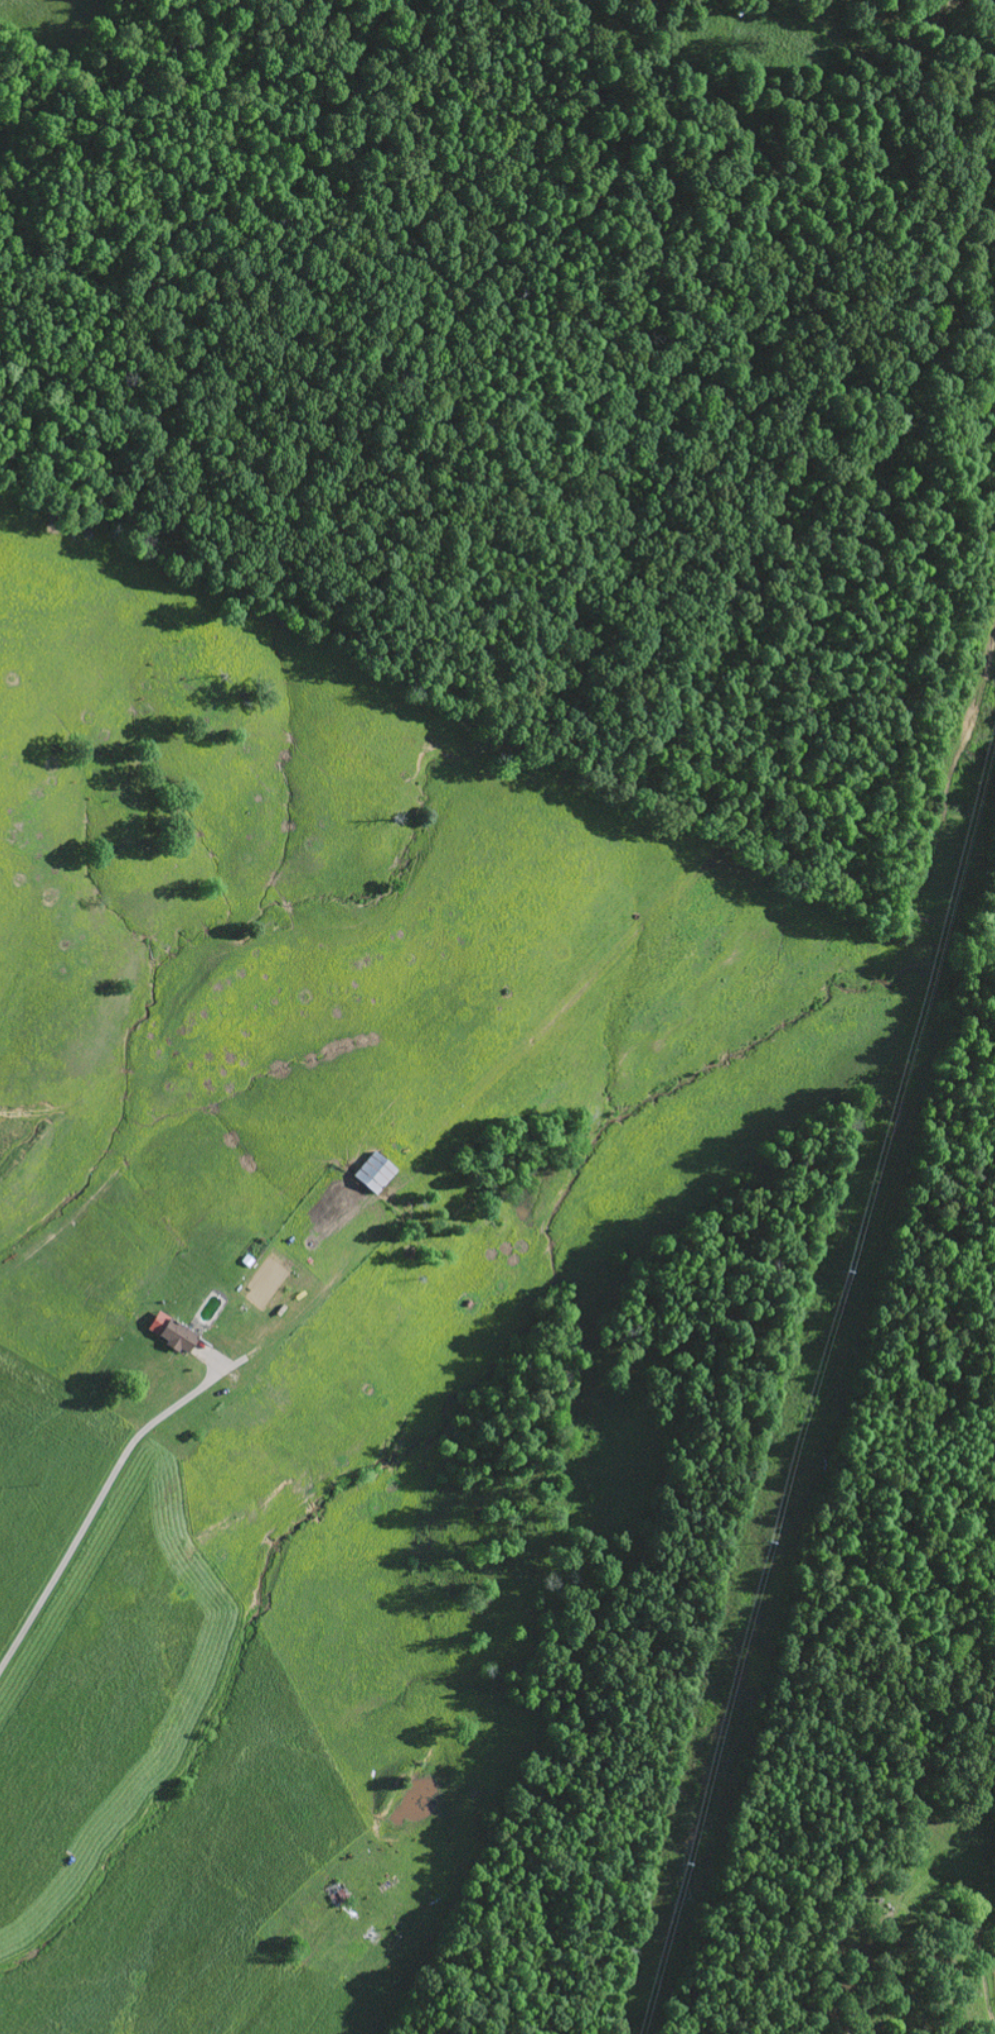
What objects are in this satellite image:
building: (370, 1172)
building: (168, 1332)
road: (838, 1804)
road: (286, 1988)

